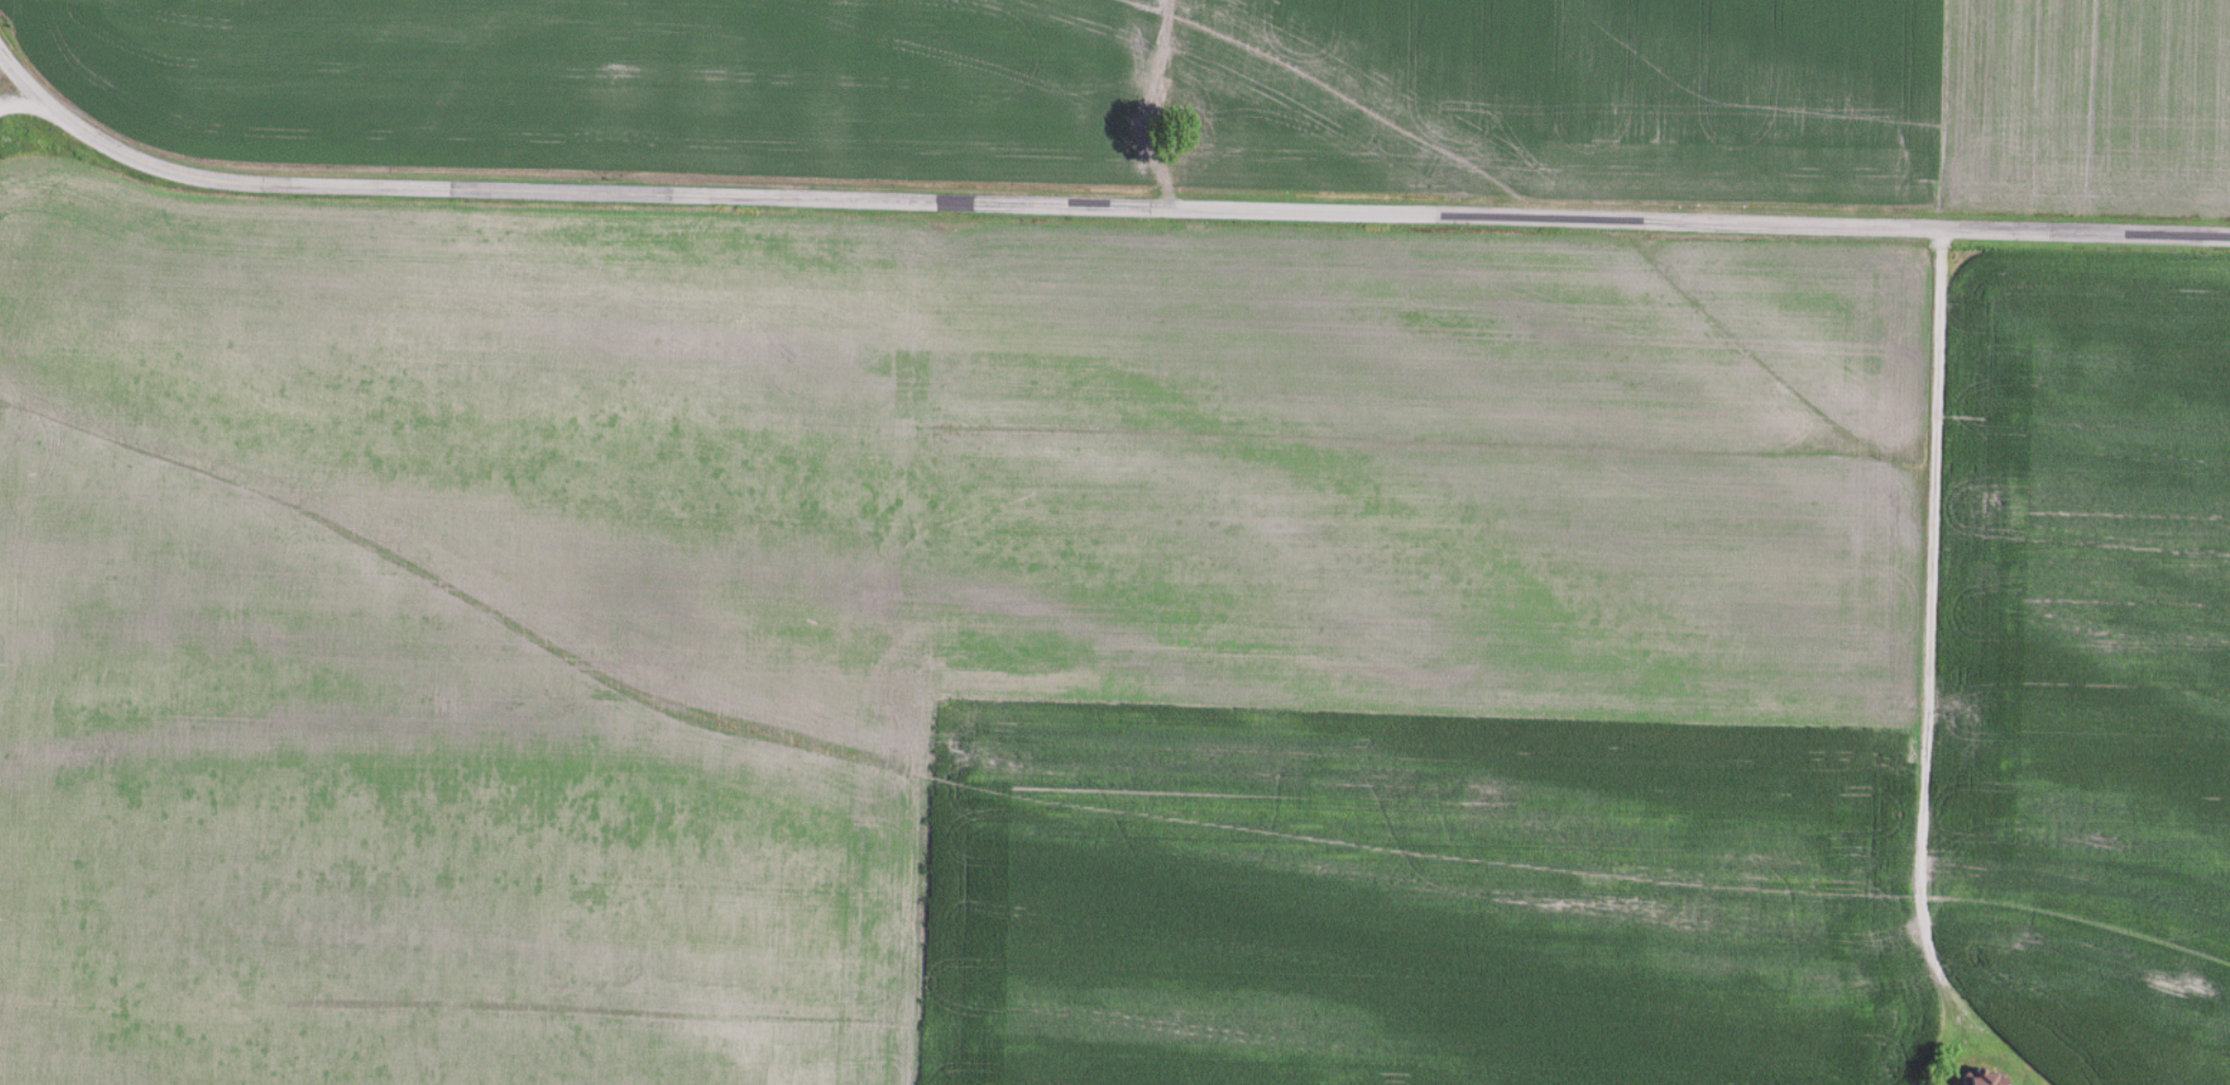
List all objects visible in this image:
road: (12, 88)
road: (1091, 203)
road: (1928, 660)
building: (1979, 1078)

